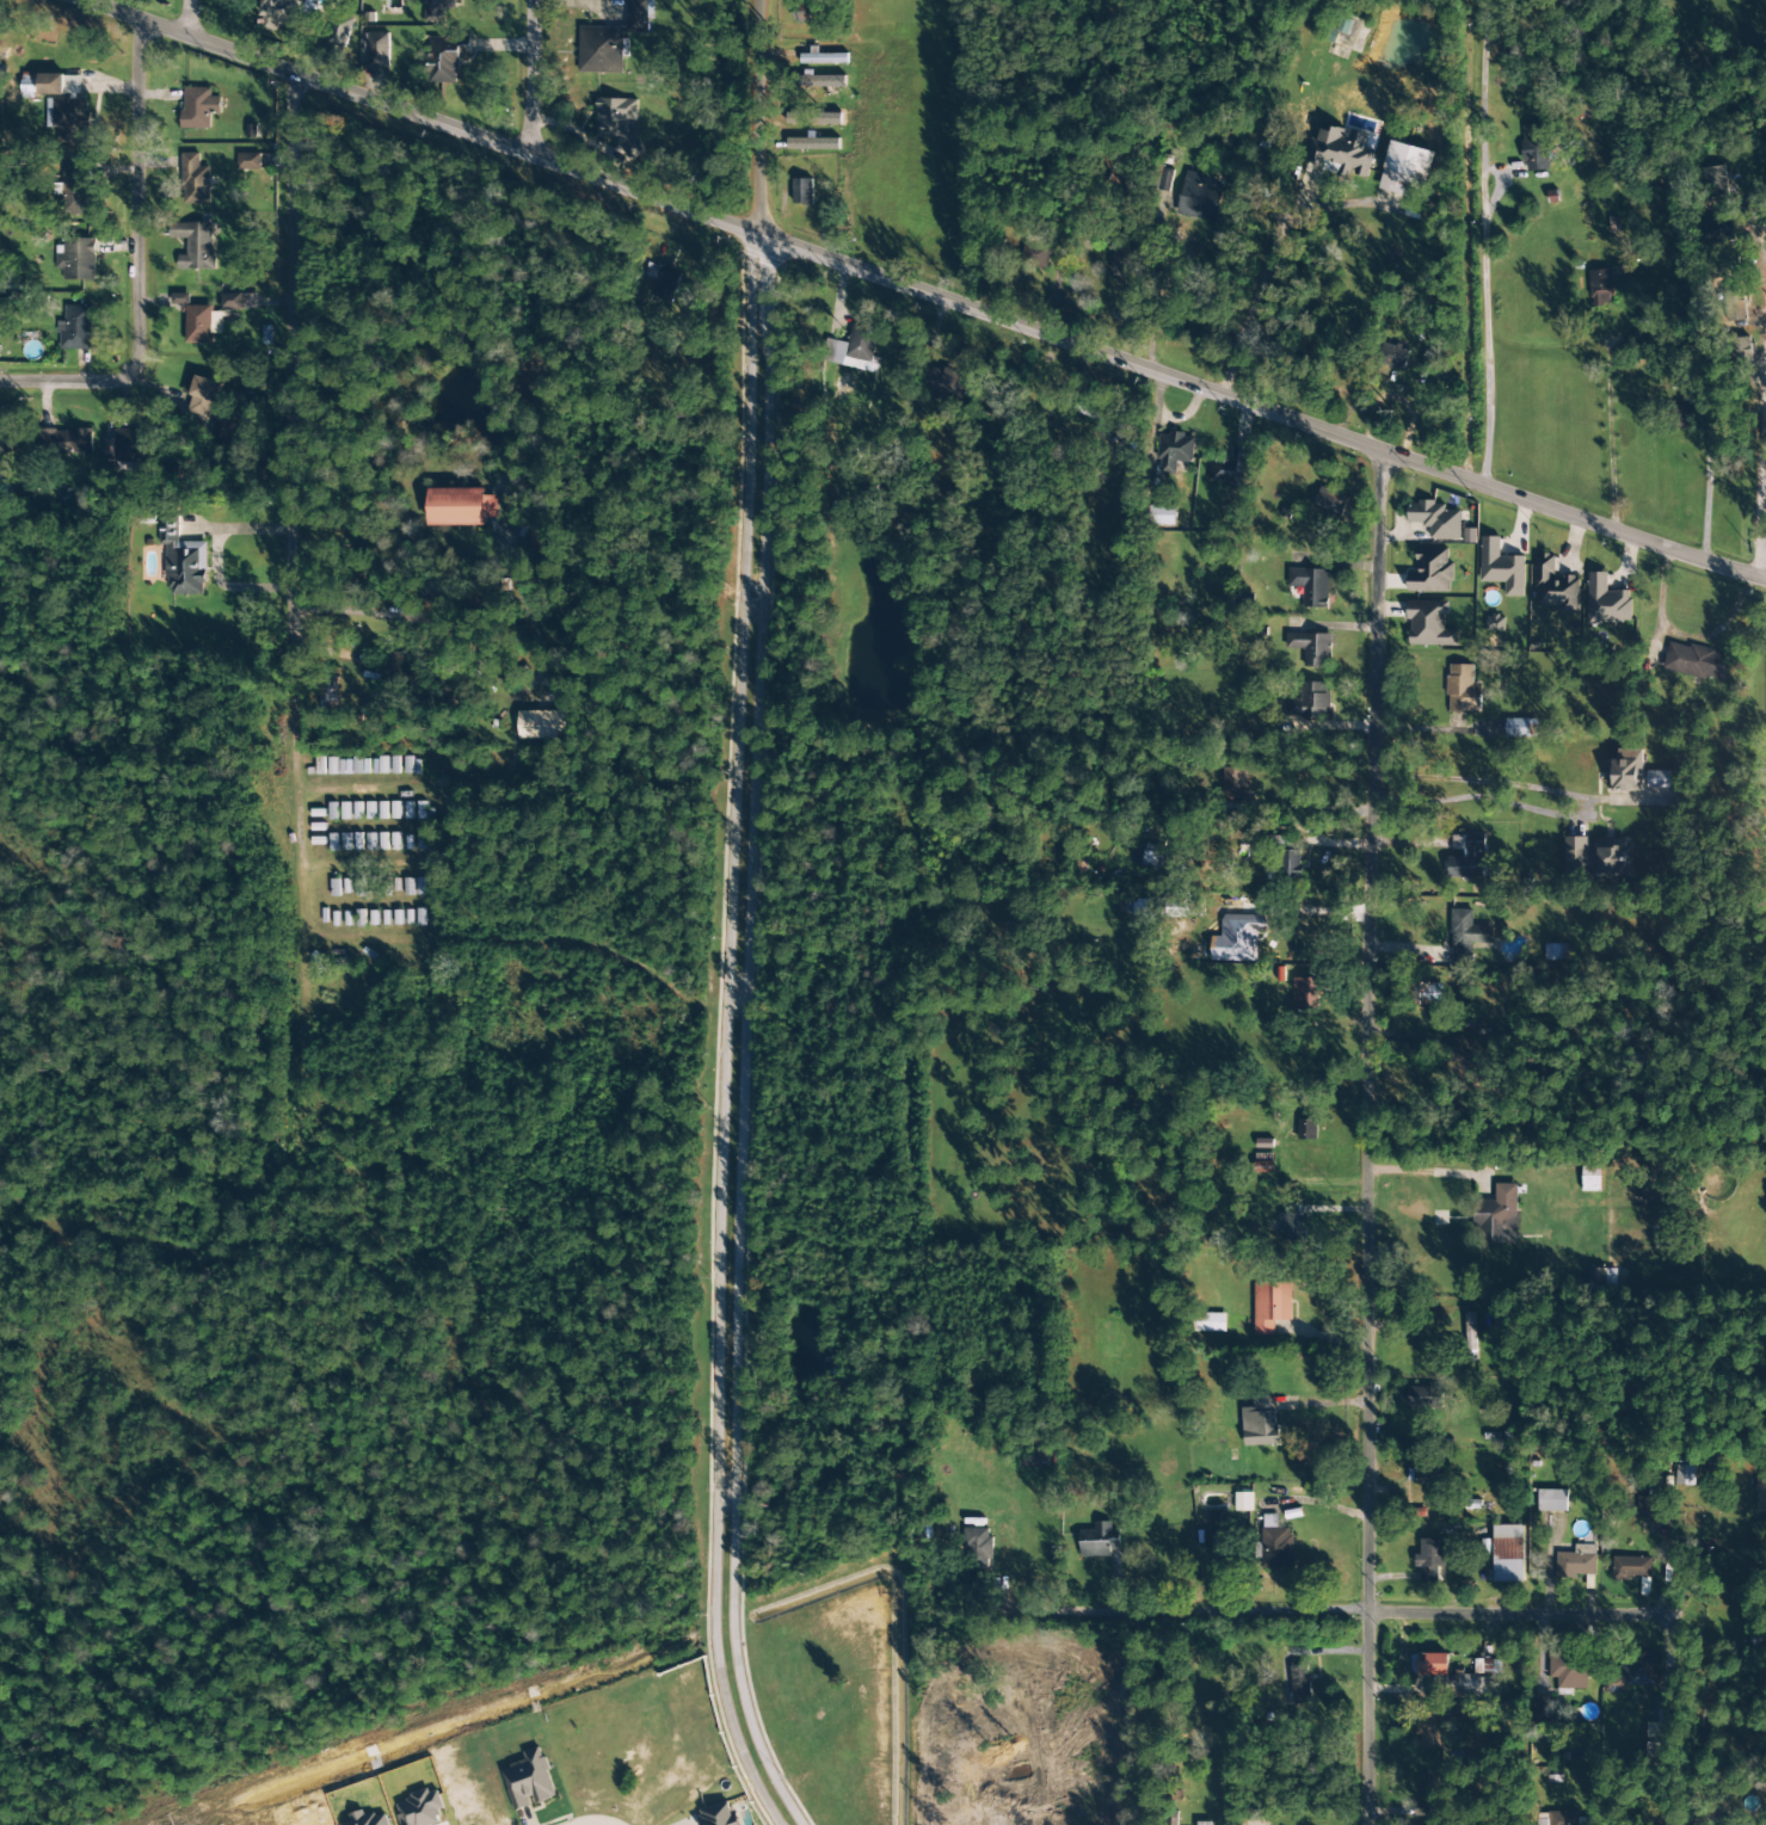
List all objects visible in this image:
building: (437, 10)
building: (811, 11)
building: (279, 13)
building: (639, 16)
road: (183, 17)
building: (1343, 25)
building: (377, 50)
building: (601, 50)
building: (444, 60)
road: (527, 78)
building: (825, 80)
building: (51, 85)
building: (73, 85)
building: (199, 107)
road: (758, 113)
building: (617, 122)
building: (72, 123)
building: (814, 143)
building: (1534, 148)
building: (1341, 150)
building: (250, 161)
building: (1404, 168)
building: (1163, 179)
building: (193, 180)
building: (1713, 181)
building: (78, 189)
building: (802, 191)
building: (1199, 197)
building: (1718, 233)
building: (195, 245)
building: (1034, 252)
road: (130, 258)
building: (76, 259)
building: (1121, 260)
road: (1266, 265)
building: (665, 280)
building: (1600, 288)
road: (925, 294)
building: (180, 298)
building: (232, 302)
building: (202, 323)
building: (75, 328)
building: (854, 350)
road: (295, 353)
building: (1393, 357)
building: (947, 383)
building: (202, 394)
building: (1684, 417)
building: (224, 427)
building: (2, 440)
building: (63, 440)
building: (127, 445)
building: (1174, 451)
road: (1761, 467)
building: (1230, 469)
building: (1323, 498)
road: (1703, 503)
building: (461, 507)
building: (1162, 516)
building: (1434, 519)
building: (1469, 536)
building: (536, 541)
building: (183, 561)
building: (1501, 567)
building: (1430, 572)
building: (1555, 585)
building: (1310, 586)
building: (1606, 600)
building: (1428, 623)
building: (1495, 623)
building: (1311, 648)
building: (1696, 661)
building: (398, 665)
building: (1463, 690)
building: (328, 693)
building: (1309, 702)
building: (546, 725)
building: (1520, 729)
building: (396, 765)
building: (349, 766)
building: (381, 766)
building: (413, 766)
building: (1625, 771)
building: (1657, 779)
road: (1482, 782)
building: (1230, 785)
building: (345, 810)
building: (358, 810)
building: (371, 810)
building: (383, 810)
building: (396, 810)
building: (333, 812)
building: (346, 841)
building: (358, 841)
building: (371, 841)
building: (384, 841)
building: (396, 841)
building: (421, 841)
building: (333, 843)
building: (1286, 855)
building: (1466, 856)
building: (1598, 858)
building: (1152, 859)
building: (361, 887)
building: (408, 887)
building: (1174, 906)
building: (359, 918)
building: (374, 918)
building: (398, 918)
building: (1466, 935)
building: (1239, 938)
building: (1556, 951)
building: (1306, 993)
building: (1426, 994)
road: (737, 1036)
building: (1306, 1129)
road: (1366, 1140)
building: (1263, 1143)
building: (1497, 1215)
building: (1293, 1227)
building: (1270, 1306)
building: (1212, 1322)
building: (1470, 1337)
building: (1423, 1398)
building: (1260, 1424)
building: (1422, 1474)
building: (1685, 1475)
building: (1760, 1493)
building: (1551, 1500)
building: (1243, 1502)
building: (1650, 1506)
building: (1100, 1541)
building: (977, 1542)
building: (1274, 1545)
building: (1508, 1554)
building: (1430, 1560)
building: (1576, 1562)
building: (1631, 1567)
road: (1518, 1615)
road: (1175, 1616)
building: (1568, 1671)
building: (1635, 1672)
building: (1457, 1675)
building: (1300, 1684)
building: (1542, 1709)
building: (1429, 1730)
building: (1660, 1733)
building: (529, 1781)
building: (1428, 1795)
building: (719, 1815)
building: (1563, 1818)
road: (592, 1821)
building: (1542, 1821)
building: (1205, 1824)

